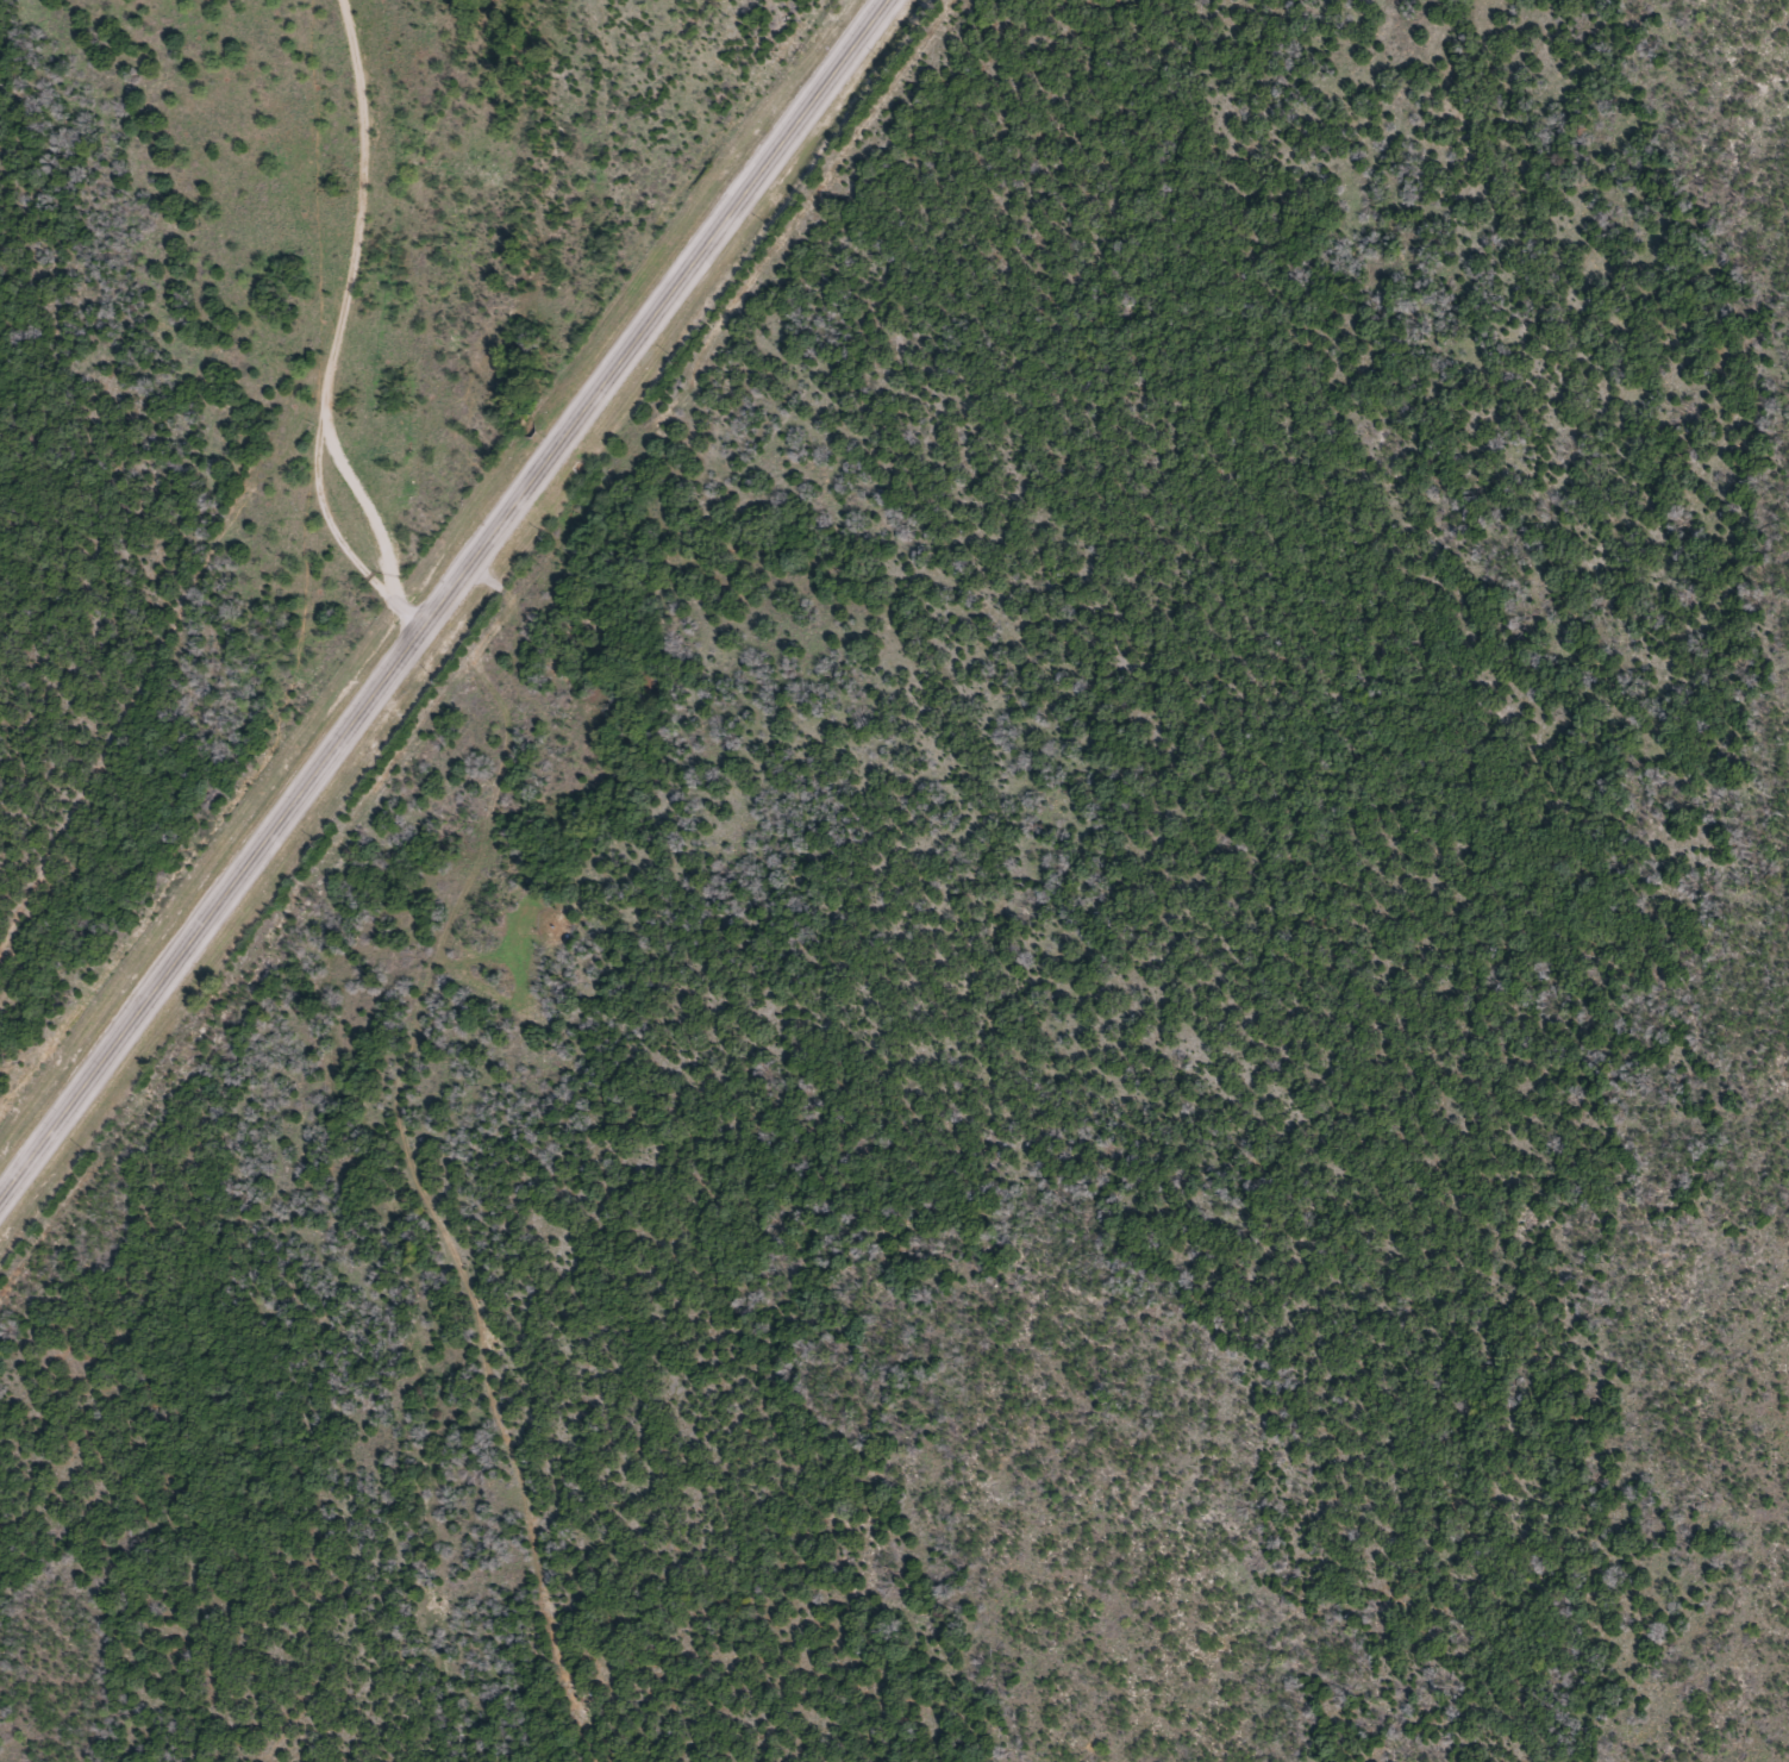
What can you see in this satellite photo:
road: (342, 326)
road: (440, 599)

